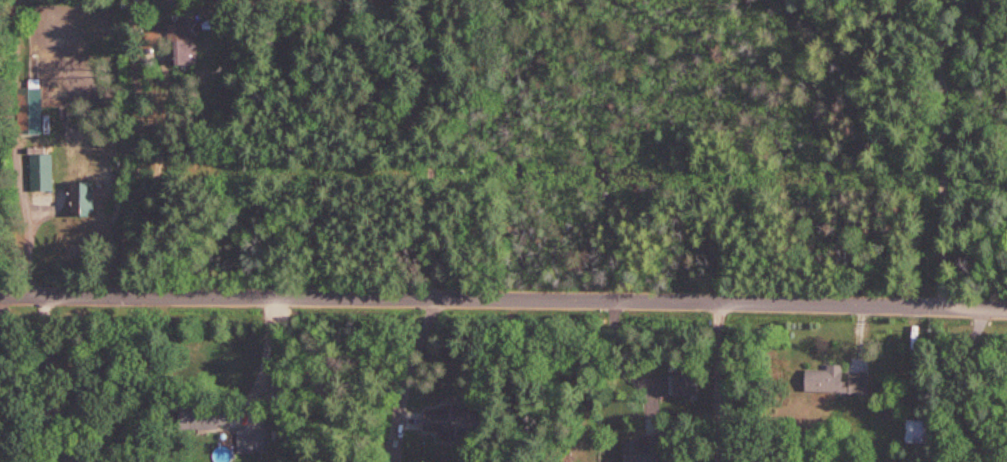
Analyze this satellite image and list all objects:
building: (185, 44)
building: (30, 108)
road: (945, 153)
building: (42, 171)
road: (136, 185)
building: (83, 198)
road: (503, 304)
road: (265, 360)
road: (407, 372)
building: (837, 380)
road: (715, 383)
building: (682, 410)
building: (212, 417)
building: (444, 423)
building: (917, 431)
building: (252, 437)
building: (644, 449)

